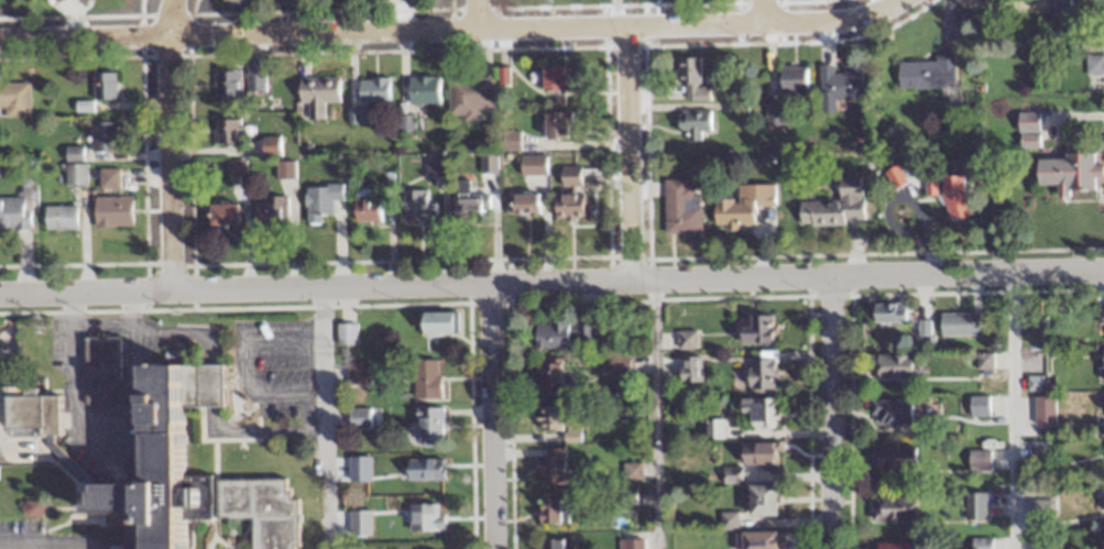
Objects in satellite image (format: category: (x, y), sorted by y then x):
building: (384, 0)
building: (545, 0)
building: (79, 1)
building: (1058, 4)
building: (240, 6)
road: (756, 10)
road: (464, 13)
park: (11, 14)
road: (451, 28)
building: (927, 73)
building: (554, 77)
building: (691, 78)
building: (791, 78)
building: (254, 81)
building: (226, 84)
building: (841, 84)
building: (102, 85)
building: (372, 89)
building: (420, 90)
building: (315, 96)
building: (467, 96)
building: (14, 99)
building: (773, 113)
road: (1076, 116)
building: (693, 120)
building: (555, 123)
building: (226, 131)
building: (1027, 131)
building: (102, 136)
road: (171, 144)
building: (269, 146)
road: (628, 150)
building: (489, 163)
building: (532, 165)
building: (236, 169)
building: (284, 171)
building: (1070, 171)
building: (75, 175)
building: (569, 175)
building: (894, 177)
building: (107, 178)
building: (949, 194)
building: (319, 200)
building: (523, 202)
building: (568, 205)
building: (680, 205)
building: (742, 205)
building: (416, 206)
building: (470, 206)
building: (834, 207)
building: (365, 208)
building: (15, 210)
building: (111, 211)
building: (270, 212)
building: (221, 215)
building: (59, 218)
road: (551, 281)
building: (888, 312)
building: (438, 322)
building: (959, 323)
road: (125, 325)
building: (756, 329)
road: (178, 331)
building: (345, 333)
building: (564, 333)
building: (686, 339)
building: (619, 361)
building: (1103, 364)
building: (892, 365)
road: (240, 366)
building: (689, 367)
building: (759, 369)
building: (100, 371)
building: (356, 373)
building: (425, 377)
road: (73, 378)
building: (549, 378)
road: (209, 385)
building: (984, 406)
building: (757, 409)
road: (1009, 409)
building: (1043, 409)
road: (832, 411)
building: (889, 411)
building: (32, 413)
road: (654, 413)
road: (491, 416)
road: (321, 417)
building: (358, 417)
building: (556, 420)
building: (428, 425)
road: (259, 431)
building: (757, 452)
building: (894, 458)
building: (977, 460)
building: (551, 465)
road: (407, 466)
building: (184, 469)
building: (630, 471)
building: (625, 496)
building: (761, 498)
building: (973, 505)
building: (893, 508)
building: (551, 509)
building: (1038, 510)
road: (408, 523)
building: (756, 539)
building: (980, 542)
building: (550, 543)
building: (630, 543)
building: (892, 545)
road: (40, 546)
building: (1040, 546)

